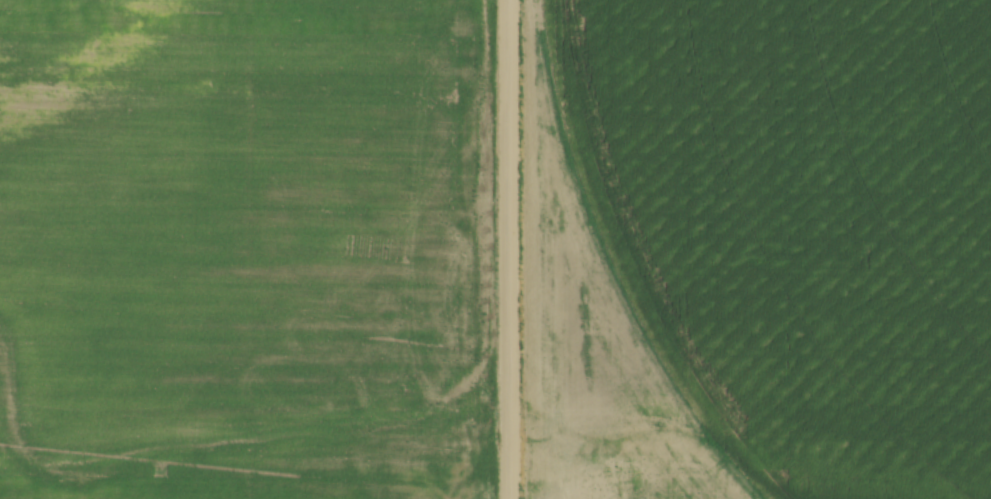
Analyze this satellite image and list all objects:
crop: (247, 249)
road: (512, 249)
crop: (760, 250)

